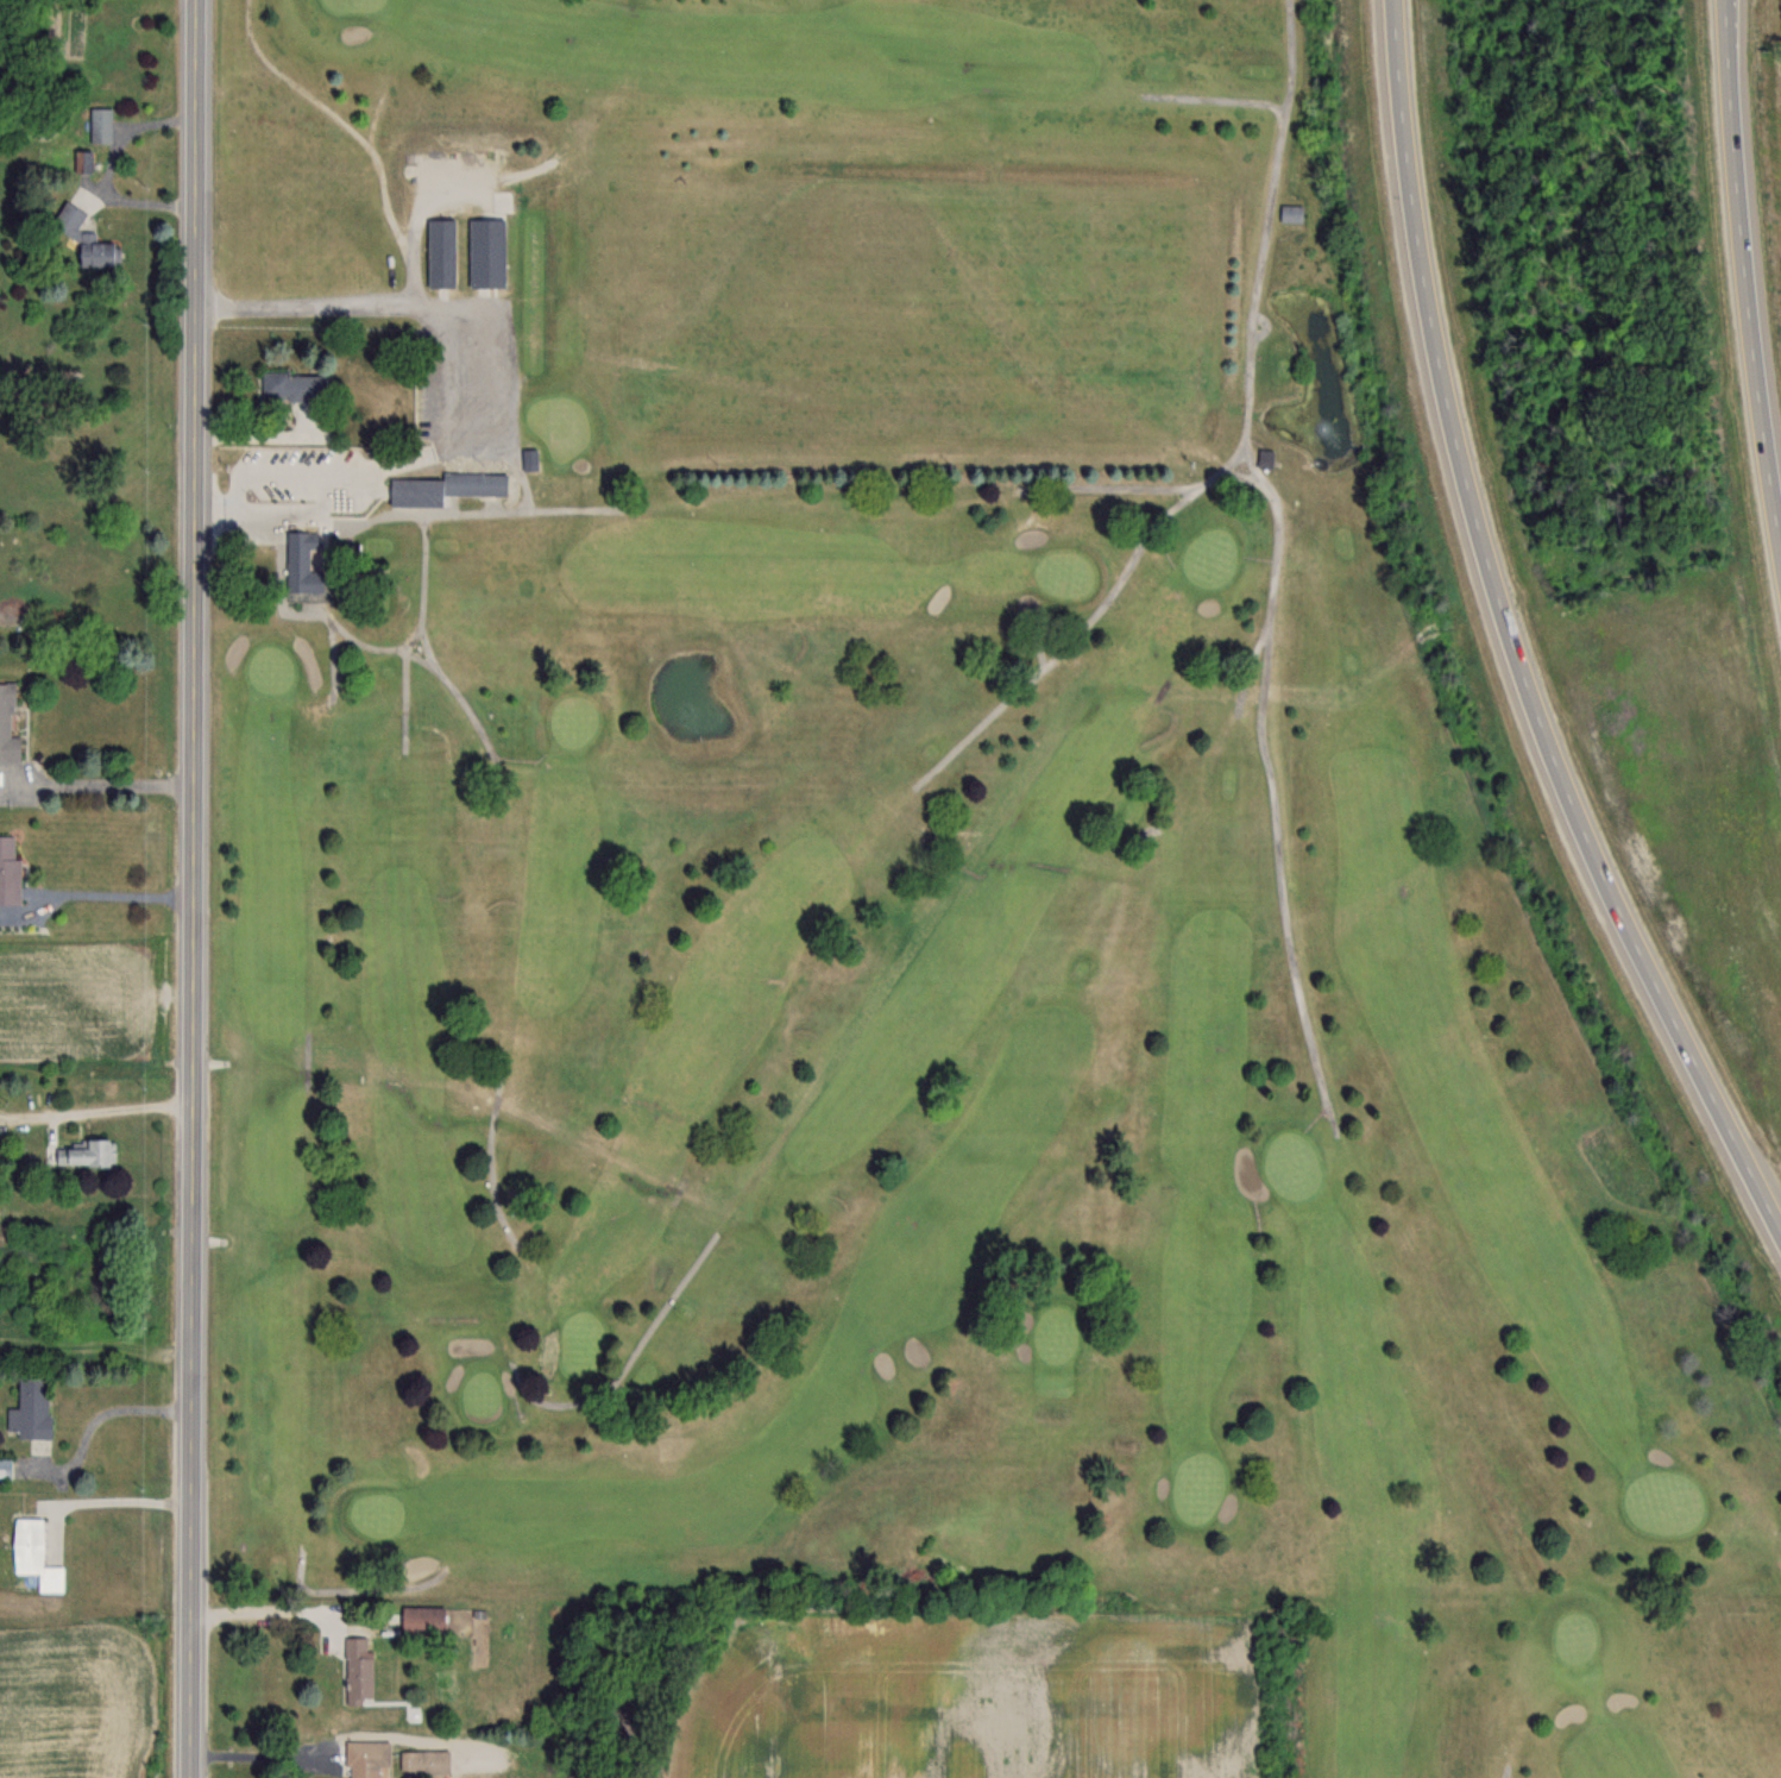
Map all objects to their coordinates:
road: (1291, 56)
building: (97, 124)
road: (357, 127)
road: (106, 153)
building: (82, 238)
building: (484, 251)
building: (438, 252)
road: (1749, 263)
road: (1251, 362)
parking lot: (476, 375)
road: (459, 378)
parking lot: (465, 378)
building: (289, 384)
building: (527, 457)
building: (1264, 458)
building: (440, 485)
road: (527, 485)
road: (491, 501)
road: (453, 502)
building: (298, 559)
road: (1270, 591)
road: (1511, 637)
road: (990, 715)
building: (6, 723)
road: (100, 785)
road: (1278, 859)
building: (7, 868)
park: (923, 881)
road: (195, 888)
road: (99, 1111)
road: (492, 1151)
building: (75, 1152)
road: (1769, 1181)
road: (630, 1356)
building: (27, 1409)
road: (105, 1412)
building: (619, 1412)
building: (4, 1469)
road: (122, 1497)
building: (31, 1556)
building: (883, 1590)
road: (273, 1610)
building: (418, 1621)
building: (355, 1670)
road: (260, 1755)
building: (365, 1759)
building: (422, 1761)

